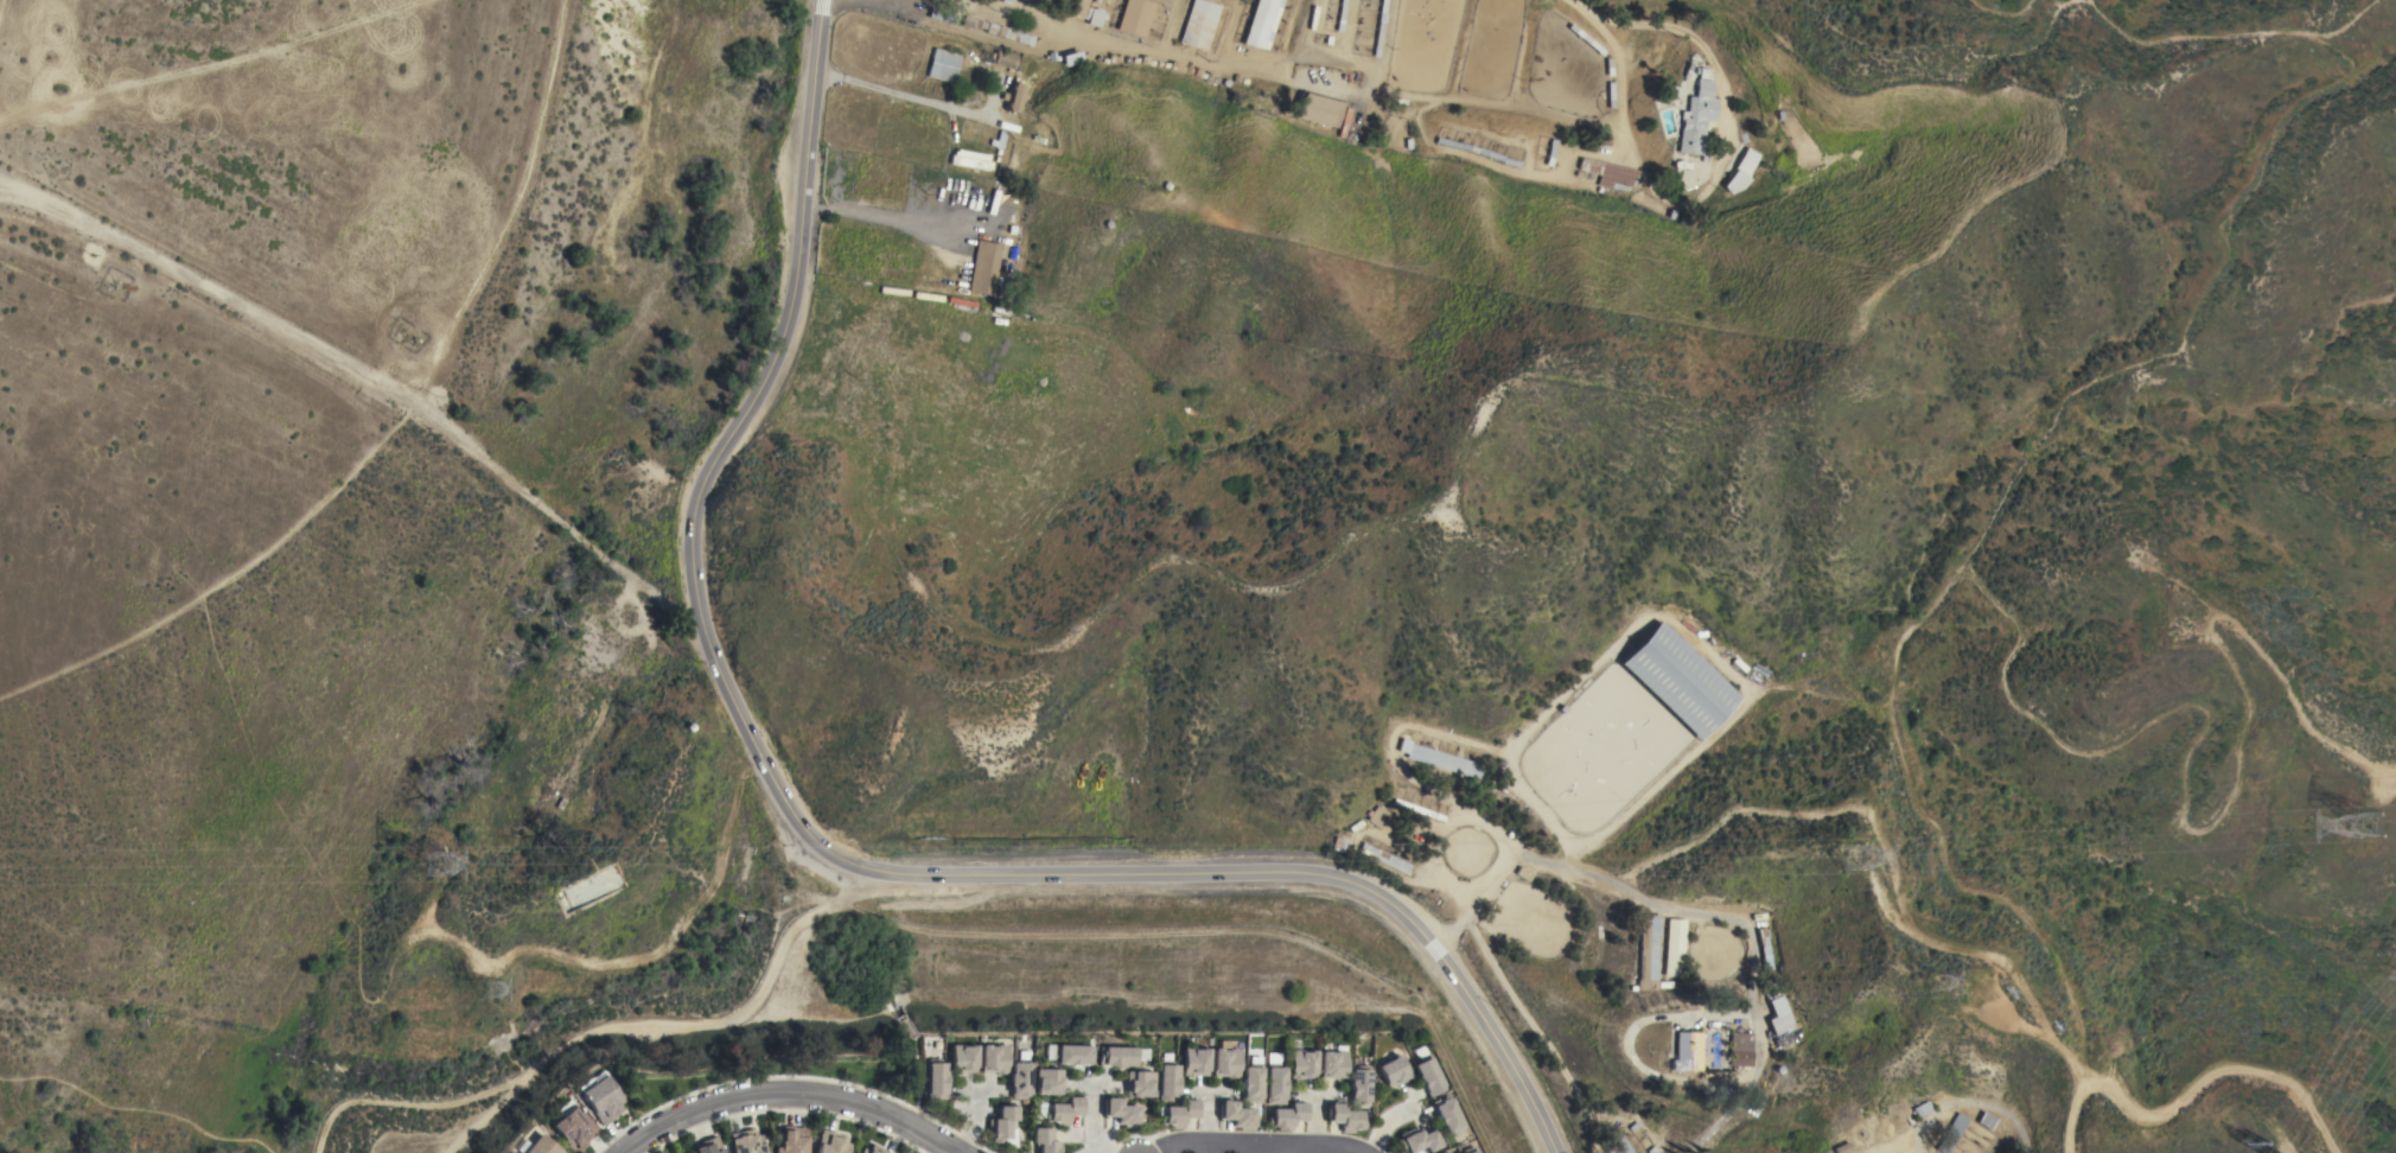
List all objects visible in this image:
road: (879, 4)
building: (1088, 13)
building: (942, 17)
building: (1260, 23)
building: (1199, 24)
building: (999, 31)
road: (1383, 34)
building: (1005, 59)
building: (1078, 59)
road: (1319, 62)
building: (944, 64)
road: (1713, 69)
road: (1374, 81)
road: (1357, 90)
road: (891, 91)
building: (1015, 98)
building: (1320, 109)
building: (1696, 114)
building: (970, 159)
building: (1747, 161)
building: (1608, 173)
road: (879, 217)
building: (984, 267)
building: (1680, 680)
building: (1446, 760)
building: (1420, 809)
building: (1379, 816)
power tower: (2370, 824)
road: (814, 837)
power tower: (1852, 854)
building: (1384, 858)
power tower: (433, 864)
wastewater plant: (590, 885)
road: (1694, 913)
building: (1676, 948)
building: (1766, 949)
building: (1649, 951)
road: (1988, 955)
power tower: (1933, 976)
power tower: (482, 989)
building: (1783, 1020)
building: (1688, 1050)
building: (1740, 1050)
building: (1071, 1055)
building: (1115, 1056)
building: (961, 1058)
building: (992, 1058)
building: (1224, 1060)
building: (1194, 1062)
building: (1301, 1063)
building: (1333, 1063)
building: (1393, 1071)
building: (1428, 1077)
building: (1019, 1078)
building: (935, 1081)
building: (1167, 1081)
building: (1046, 1082)
building: (1139, 1083)
road: (1100, 1084)
building: (1251, 1084)
building: (1274, 1085)
building: (1358, 1085)
road: (785, 1093)
building: (600, 1100)
road: (1956, 1107)
building: (1923, 1108)
building: (1063, 1110)
road: (1092, 1110)
building: (1121, 1113)
building: (1179, 1114)
building: (1236, 1115)
building: (1287, 1115)
building: (1447, 1115)
building: (1345, 1117)
building: (1988, 1120)
building: (1001, 1122)
building: (572, 1127)
building: (1952, 1133)
building: (790, 1140)
building: (1044, 1140)
building: (1419, 1140)
building: (1614, 1140)
building: (745, 1141)
building: (830, 1142)
road: (1253, 1144)
power tower: (2274, 1144)
building: (540, 1146)
building: (707, 1146)
road: (1289, 1148)
building: (872, 1149)
building: (1467, 1149)
building: (1446, 1152)

